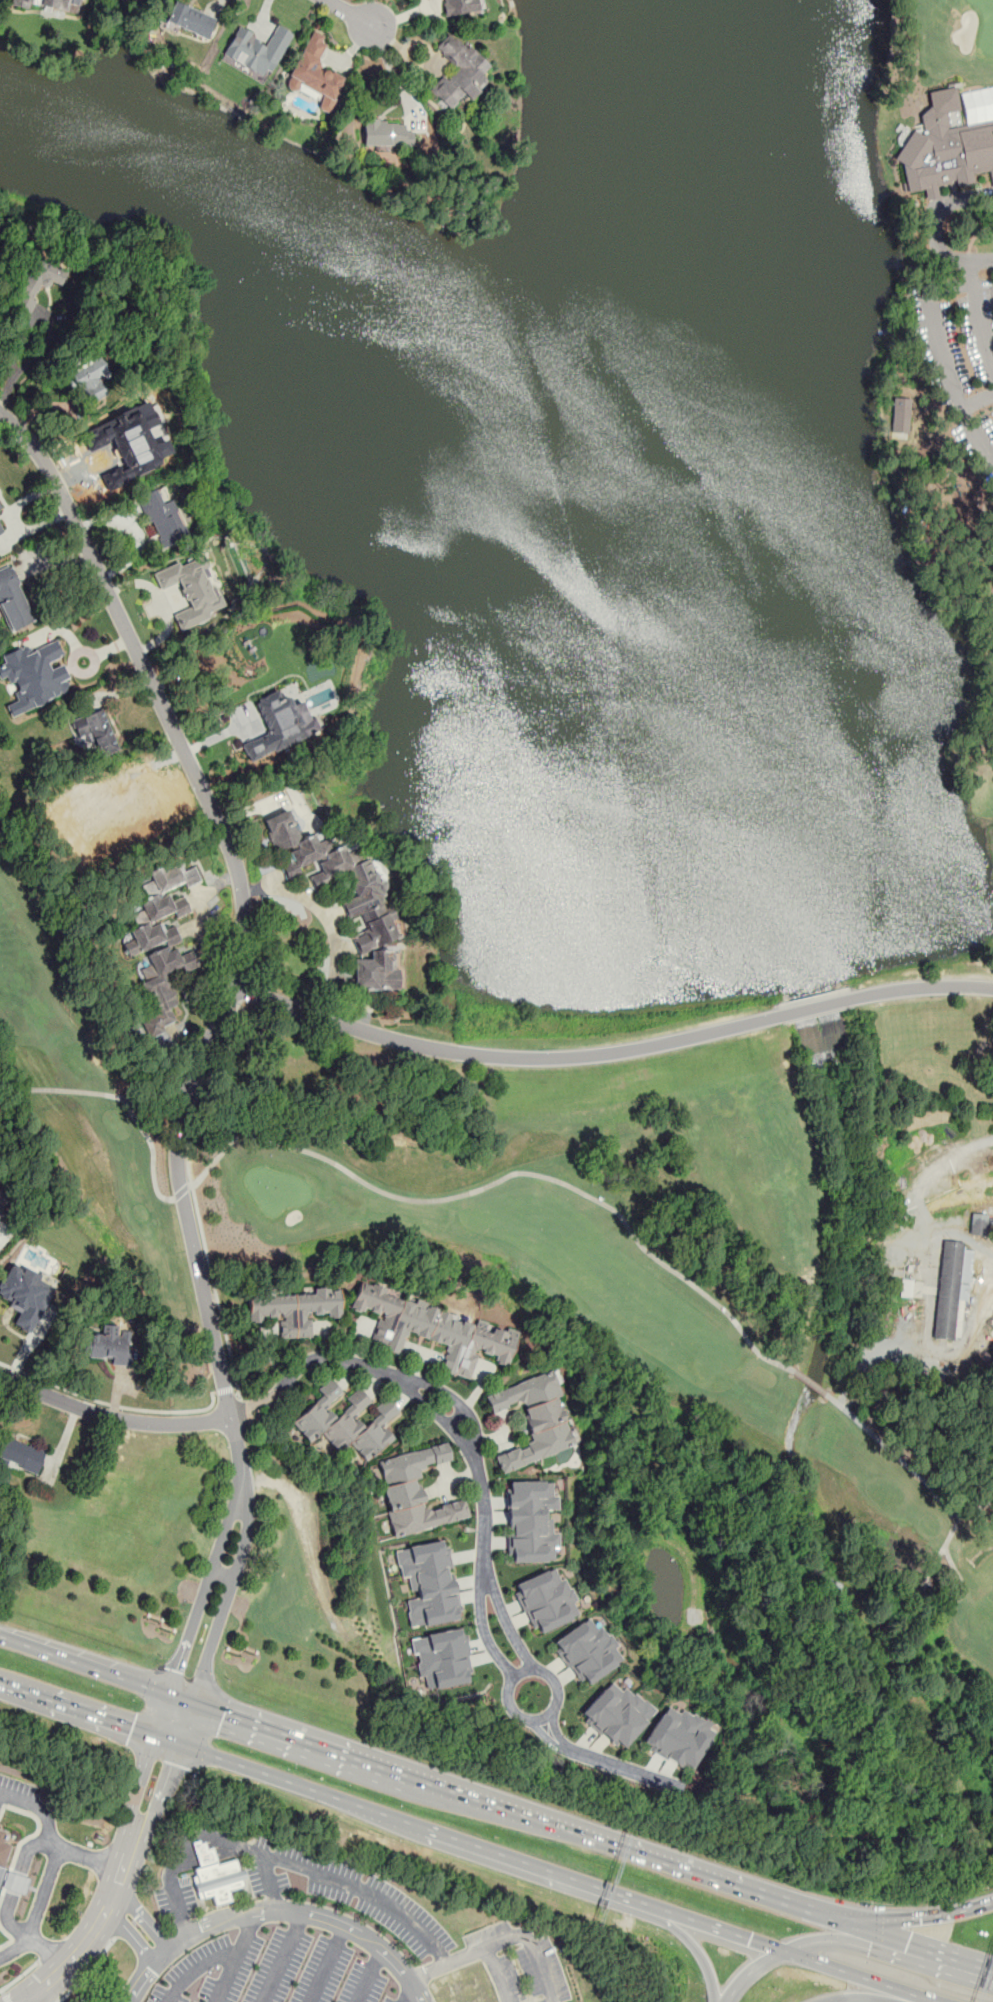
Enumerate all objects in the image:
building: (53, 3)
building: (461, 6)
road: (355, 15)
building: (191, 19)
building: (256, 49)
building: (314, 70)
building: (459, 72)
building: (388, 134)
building: (944, 148)
road: (931, 229)
road: (970, 272)
building: (37, 280)
road: (931, 315)
road: (42, 320)
building: (89, 379)
road: (4, 387)
road: (977, 403)
building: (900, 417)
building: (164, 518)
building: (1, 529)
building: (191, 589)
building: (13, 600)
building: (34, 676)
park: (633, 708)
building: (280, 724)
building: (95, 731)
building: (290, 870)
building: (165, 891)
building: (368, 899)
road: (329, 920)
road: (242, 925)
road: (610, 1052)
road: (115, 1097)
road: (511, 1174)
road: (181, 1190)
road: (192, 1191)
building: (1, 1199)
building: (1, 1212)
building: (978, 1224)
building: (952, 1291)
building: (23, 1297)
building: (294, 1309)
building: (433, 1330)
building: (109, 1344)
road: (811, 1382)
road: (226, 1389)
road: (110, 1405)
road: (112, 1418)
building: (533, 1419)
building: (345, 1423)
building: (20, 1454)
building: (416, 1492)
road: (973, 1509)
road: (950, 1514)
road: (485, 1519)
building: (530, 1522)
road: (223, 1574)
building: (429, 1582)
road: (204, 1588)
building: (545, 1600)
road: (222, 1615)
building: (587, 1650)
building: (445, 1658)
road: (96, 1669)
traffic signals: (176, 1672)
traffic signals: (224, 1713)
building: (616, 1714)
road: (88, 1715)
traffic signals: (132, 1730)
building: (678, 1736)
traffic signals: (172, 1763)
road: (146, 1764)
road: (380, 1766)
road: (299, 1786)
road: (161, 1793)
road: (40, 1807)
road: (206, 1840)
road: (606, 1841)
building: (3, 1850)
road: (544, 1869)
road: (16, 1870)
building: (215, 1875)
building: (16, 1882)
road: (746, 1886)
road: (48, 1892)
road: (384, 1897)
road: (275, 1913)
road: (144, 1915)
road: (921, 1915)
traffic signals: (915, 1916)
road: (93, 1928)
road: (726, 1931)
road: (129, 1935)
road: (517, 1938)
traffic signals: (749, 1939)
traffic signals: (908, 1940)
road: (911, 1941)
road: (16, 1948)
traffic signals: (870, 1948)
road: (880, 1949)
road: (698, 1953)
road: (284, 1958)
road: (218, 1962)
road: (327, 1964)
road: (984, 1964)
road: (88, 1971)
road: (751, 1971)
road: (852, 1974)
road: (371, 1975)
road: (496, 1975)
road: (20, 1976)
road: (227, 1979)
building: (467, 1988)
road: (407, 1992)
road: (5, 1996)
road: (872, 1997)
road: (33, 1999)
road: (919, 2001)

